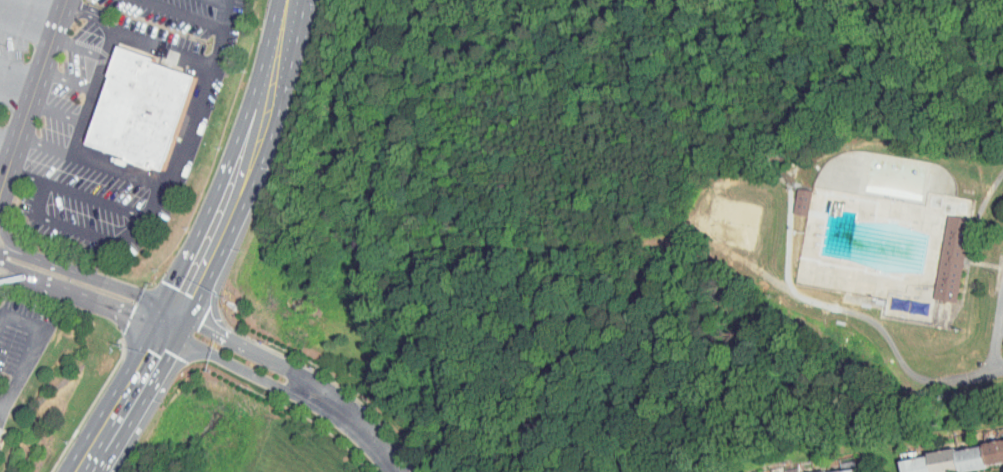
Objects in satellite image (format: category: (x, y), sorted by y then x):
road: (51, 4)
road: (64, 4)
road: (179, 13)
road: (56, 24)
road: (25, 32)
road: (79, 48)
parking lot: (17, 50)
road: (161, 52)
road: (20, 67)
road: (103, 67)
road: (68, 80)
road: (33, 91)
road: (14, 102)
building: (142, 110)
road: (57, 112)
road: (191, 131)
road: (8, 137)
road: (11, 155)
road: (92, 162)
road: (248, 167)
road: (3, 169)
road: (3, 176)
road: (3, 178)
road: (3, 184)
road: (76, 194)
building: (792, 196)
building: (804, 202)
road: (977, 212)
park: (651, 219)
park: (732, 221)
road: (1, 222)
road: (61, 223)
road: (789, 234)
road: (17, 253)
building: (941, 253)
building: (952, 258)
road: (983, 263)
road: (9, 268)
road: (8, 275)
road: (108, 284)
road: (94, 301)
traffic signals: (182, 313)
road: (1001, 319)
road: (173, 328)
road: (997, 330)
traffic signals: (171, 333)
road: (887, 336)
parking lot: (20, 346)
road: (245, 346)
road: (31, 351)
road: (236, 364)
road: (130, 403)
road: (358, 421)
building: (947, 453)
building: (815, 466)

